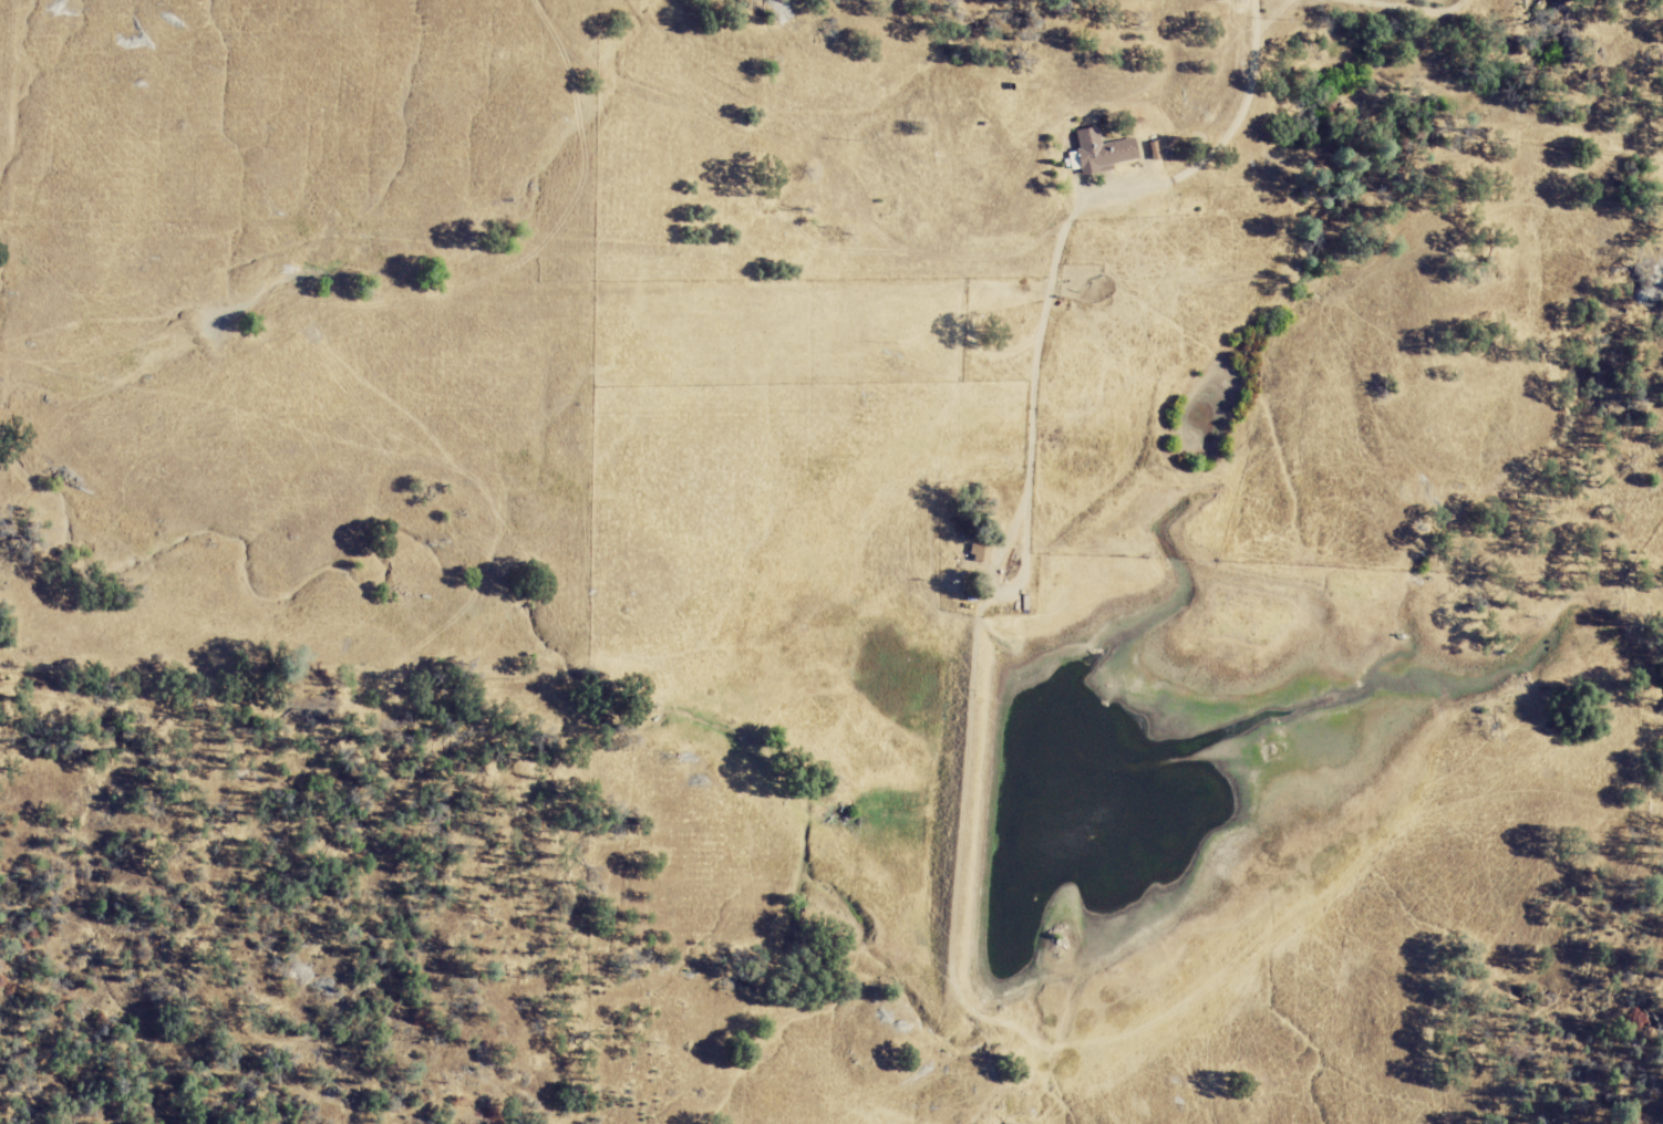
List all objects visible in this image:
road: (1246, 101)
building: (1104, 153)
road: (1034, 334)
building: (982, 553)

